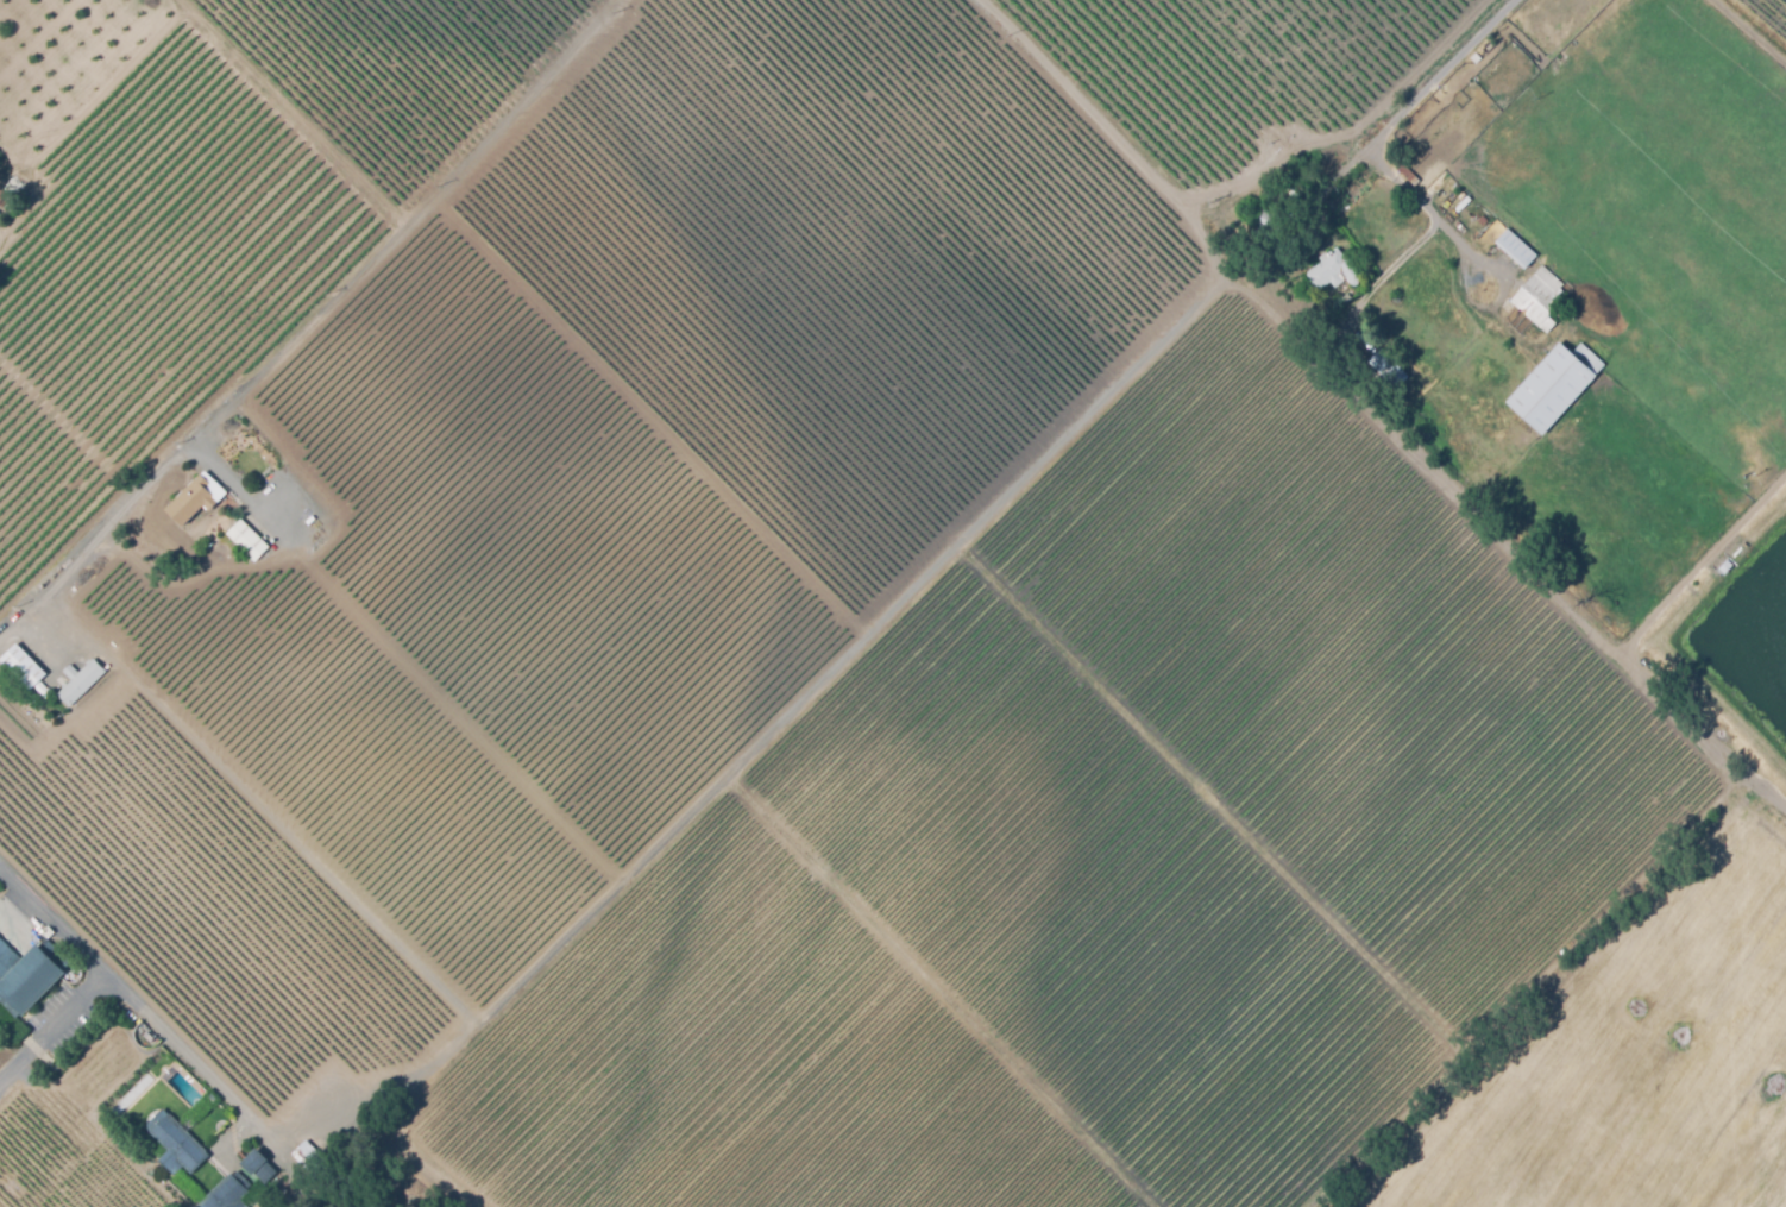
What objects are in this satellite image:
road: (1750, 30)
building: (1473, 57)
road: (1425, 74)
building: (1448, 111)
building: (1405, 171)
building: (1463, 205)
building: (1269, 221)
building: (1516, 249)
building: (1334, 270)
building: (1540, 297)
building: (1389, 367)
building: (1554, 385)
road: (1423, 457)
building: (196, 498)
road: (114, 522)
building: (247, 539)
building: (1725, 566)
building: (23, 666)
building: (80, 679)
building: (27, 974)
road: (26, 1051)
building: (176, 1144)
building: (309, 1157)
building: (257, 1164)
building: (226, 1192)
building: (241, 1205)

